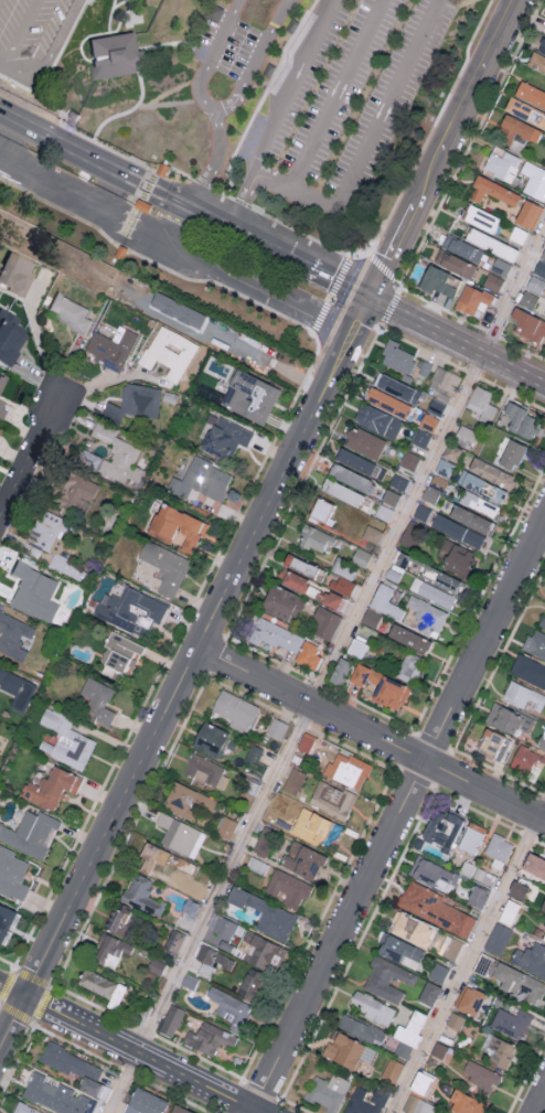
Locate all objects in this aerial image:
road: (18, 33)
parking lot: (223, 41)
building: (542, 44)
road: (46, 57)
building: (114, 57)
building: (536, 60)
road: (482, 76)
road: (288, 87)
parking lot: (331, 89)
building: (531, 92)
road: (333, 96)
road: (217, 109)
building: (525, 110)
building: (73, 118)
road: (373, 128)
building: (516, 129)
road: (9, 139)
road: (74, 147)
airport: (221, 153)
road: (212, 161)
building: (502, 162)
building: (161, 170)
road: (430, 181)
road: (50, 184)
road: (269, 184)
road: (108, 189)
building: (491, 190)
road: (241, 201)
road: (188, 205)
building: (141, 206)
building: (528, 213)
building: (481, 217)
road: (135, 225)
road: (181, 225)
building: (482, 238)
building: (462, 247)
building: (120, 253)
building: (543, 253)
road: (394, 254)
road: (300, 263)
building: (455, 263)
building: (539, 267)
building: (14, 274)
building: (436, 280)
building: (493, 280)
building: (536, 283)
road: (263, 289)
building: (471, 298)
building: (527, 298)
traffic signals: (372, 299)
building: (177, 309)
building: (68, 311)
building: (544, 314)
road: (363, 317)
building: (528, 325)
road: (39, 334)
building: (9, 336)
road: (458, 341)
building: (110, 347)
building: (169, 351)
building: (397, 356)
building: (1, 377)
building: (445, 379)
building: (396, 387)
building: (249, 395)
building: (387, 402)
building: (133, 403)
building: (482, 403)
building: (1, 405)
building: (521, 419)
building: (377, 420)
building: (429, 420)
building: (466, 436)
building: (225, 437)
building: (420, 437)
building: (363, 442)
building: (451, 451)
building: (511, 453)
road: (29, 456)
building: (113, 456)
building: (409, 460)
building: (354, 461)
building: (444, 467)
building: (492, 472)
building: (351, 478)
building: (201, 480)
building: (398, 481)
building: (435, 488)
building: (482, 488)
building: (72, 489)
road: (276, 491)
building: (341, 491)
building: (391, 496)
building: (483, 505)
building: (322, 510)
building: (470, 518)
building: (177, 525)
building: (457, 529)
building: (371, 533)
building: (314, 538)
building: (453, 555)
building: (360, 556)
building: (299, 565)
building: (65, 566)
building: (164, 566)
building: (292, 579)
building: (446, 580)
building: (340, 585)
building: (33, 591)
building: (431, 592)
building: (384, 601)
building: (281, 602)
building: (130, 609)
building: (426, 614)
building: (543, 622)
building: (323, 623)
building: (275, 634)
building: (13, 635)
building: (408, 638)
building: (535, 643)
building: (356, 648)
building: (118, 653)
building: (308, 654)
building: (408, 666)
building: (528, 670)
building: (340, 671)
road: (327, 672)
building: (381, 686)
building: (17, 688)
building: (523, 696)
building: (97, 702)
building: (235, 709)
building: (509, 719)
building: (277, 728)
road: (372, 734)
building: (210, 738)
building: (65, 740)
building: (542, 740)
building: (306, 741)
building: (494, 745)
building: (525, 758)
building: (351, 769)
building: (206, 771)
building: (293, 780)
building: (51, 786)
building: (331, 799)
building: (188, 800)
building: (286, 804)
road: (398, 816)
road: (111, 821)
building: (225, 827)
building: (322, 828)
building: (441, 830)
building: (31, 833)
building: (180, 835)
building: (471, 837)
building: (498, 849)
building: (161, 860)
building: (302, 860)
building: (534, 865)
building: (12, 874)
building: (432, 874)
building: (173, 879)
building: (288, 888)
building: (517, 889)
building: (141, 895)
building: (477, 896)
building: (543, 907)
building: (434, 908)
building: (510, 912)
building: (265, 913)
building: (118, 918)
building: (6, 921)
building: (222, 925)
building: (410, 929)
building: (544, 938)
building: (498, 939)
building: (173, 940)
building: (225, 944)
building: (451, 948)
building: (110, 950)
building: (263, 950)
building: (402, 951)
building: (213, 956)
road: (468, 957)
building: (531, 959)
building: (387, 978)
building: (96, 983)
building: (519, 983)
building: (250, 984)
road: (12, 988)
building: (428, 993)
building: (228, 1005)
building: (371, 1007)
road: (12, 1019)
building: (171, 1019)
building: (509, 1020)
building: (361, 1029)
building: (408, 1034)
building: (209, 1038)
building: (346, 1050)
building: (501, 1052)
road: (142, 1053)
building: (76, 1068)
building: (392, 1069)
building: (481, 1075)
building: (328, 1091)
building: (55, 1095)
building: (365, 1101)
building: (143, 1102)
building: (466, 1103)
building: (416, 1105)
road: (541, 1105)
building: (179, 1110)

